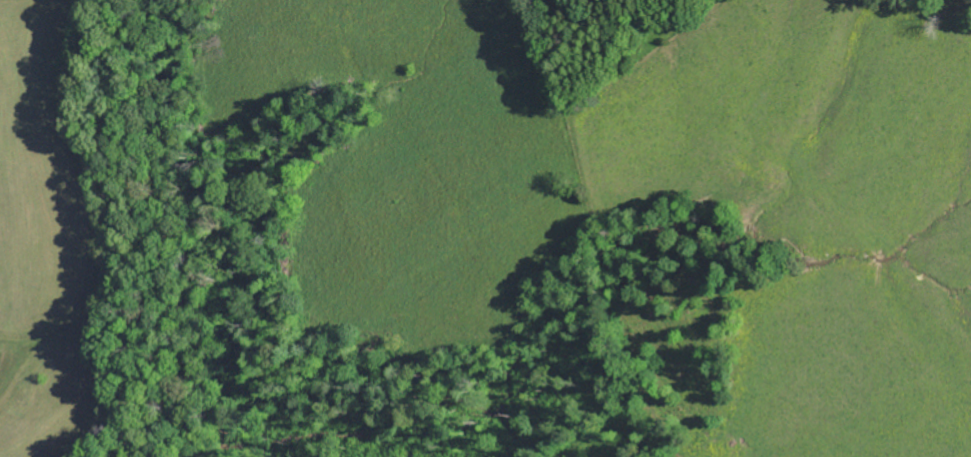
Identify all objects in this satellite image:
road: (795, 153)

